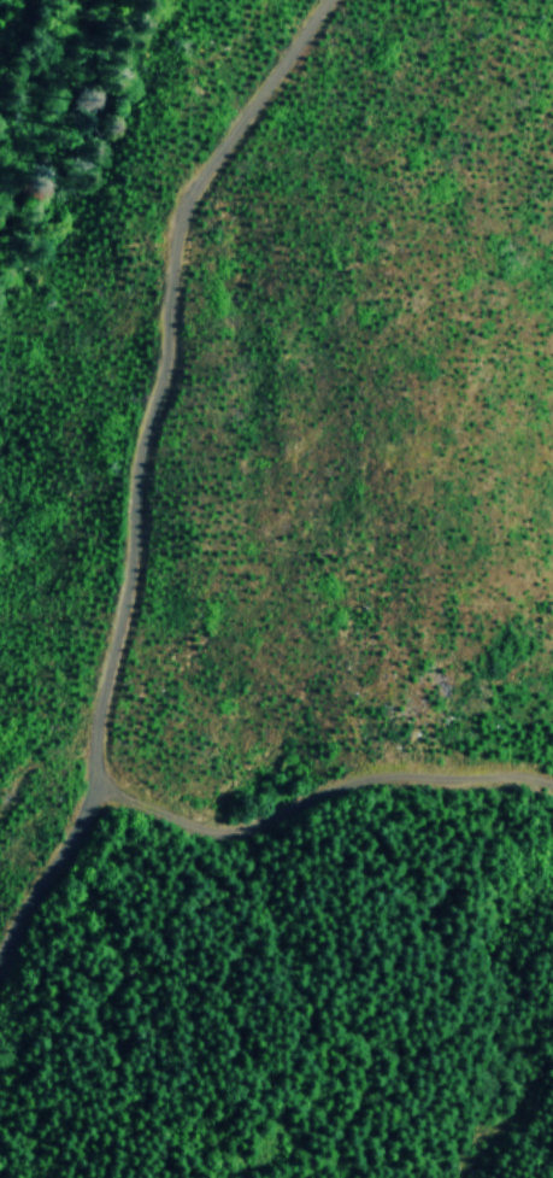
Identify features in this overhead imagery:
road: (127, 476)
road: (319, 787)

